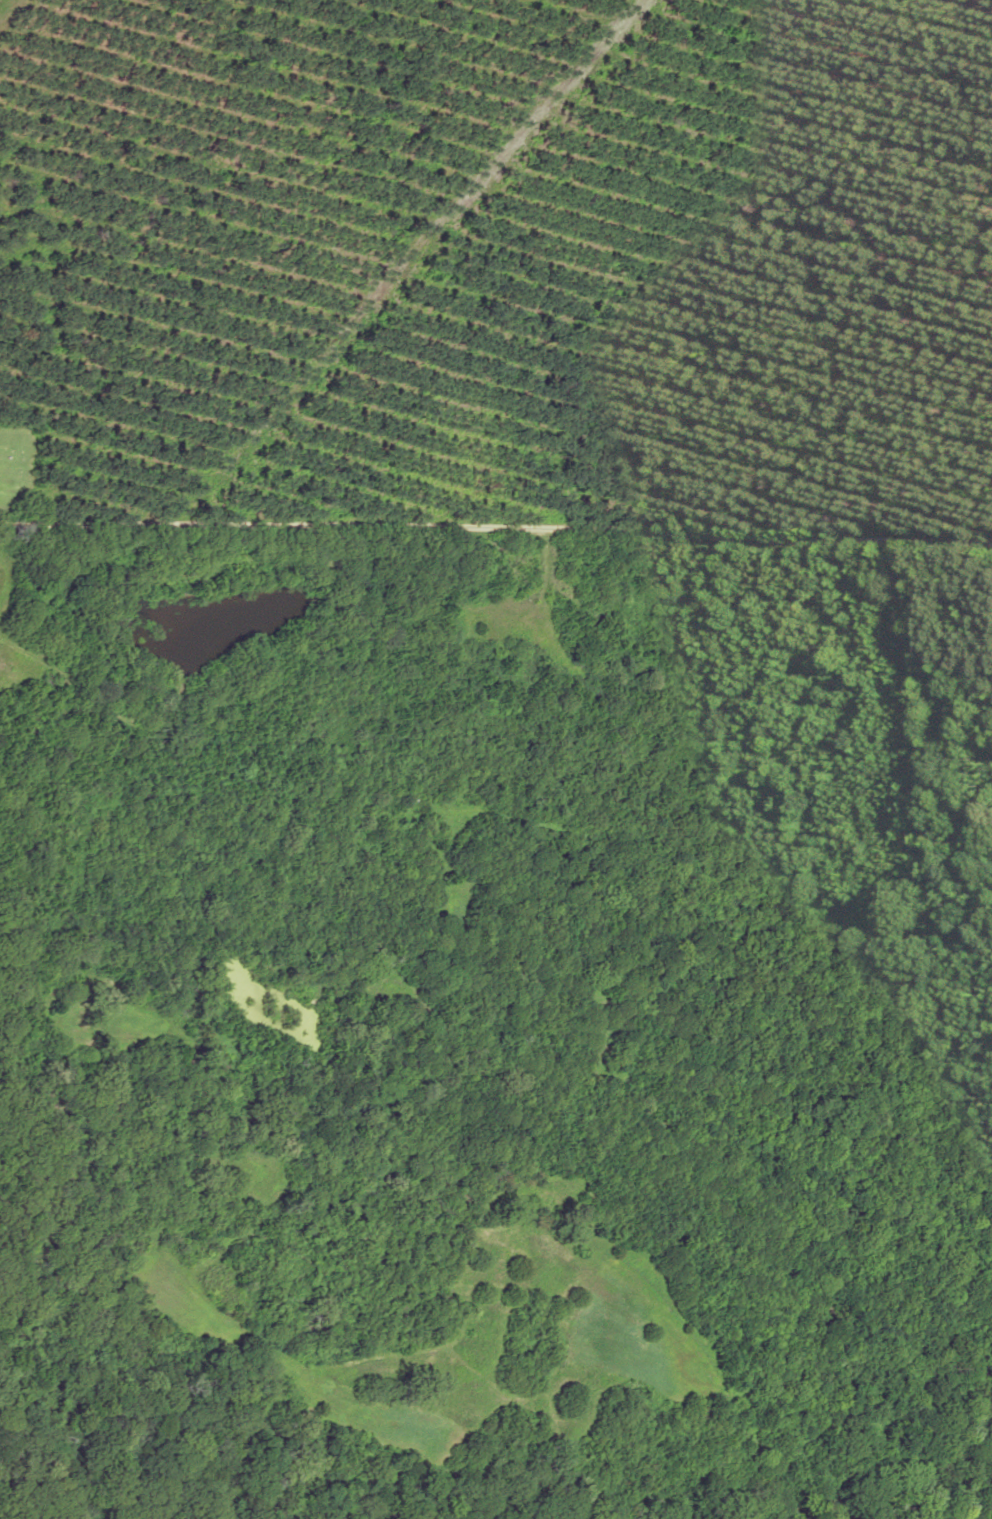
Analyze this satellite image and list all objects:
road: (344, 348)

